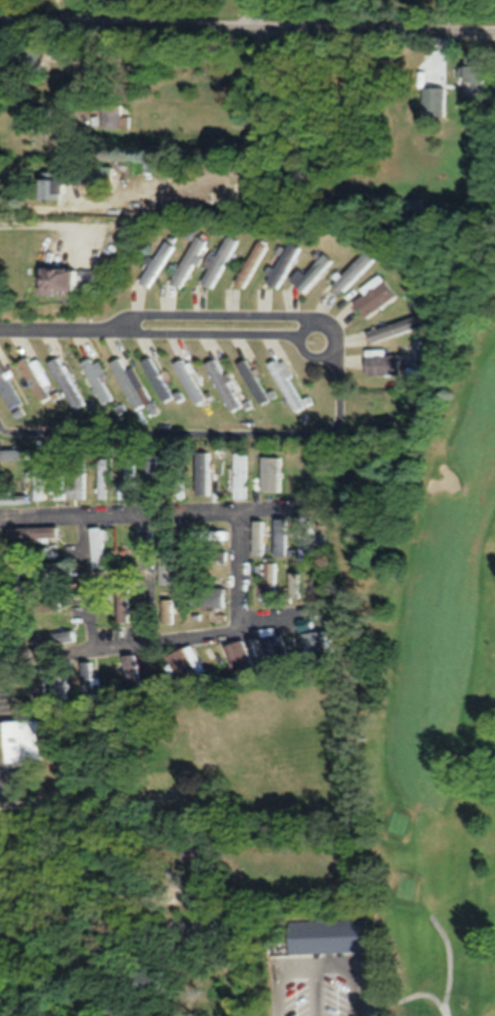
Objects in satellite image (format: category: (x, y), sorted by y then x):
road: (247, 12)
road: (247, 24)
building: (27, 57)
building: (473, 74)
building: (433, 99)
building: (28, 115)
building: (113, 116)
building: (71, 173)
building: (96, 174)
building: (47, 185)
building: (218, 260)
building: (186, 261)
building: (153, 263)
building: (249, 263)
building: (280, 263)
building: (353, 270)
building: (312, 272)
building: (62, 278)
building: (371, 299)
road: (63, 318)
building: (391, 328)
road: (338, 338)
building: (379, 363)
building: (35, 378)
building: (98, 379)
building: (253, 380)
building: (66, 381)
building: (160, 381)
building: (127, 382)
building: (192, 382)
building: (224, 384)
building: (288, 385)
building: (7, 390)
road: (208, 422)
building: (13, 455)
building: (261, 472)
building: (241, 474)
building: (287, 474)
building: (151, 475)
building: (200, 475)
building: (129, 476)
building: (219, 476)
building: (56, 477)
building: (78, 478)
building: (102, 478)
building: (177, 479)
building: (37, 480)
building: (12, 497)
road: (147, 509)
building: (31, 531)
building: (208, 534)
building: (306, 538)
building: (281, 539)
building: (96, 547)
building: (29, 552)
building: (207, 555)
building: (39, 567)
building: (269, 582)
building: (31, 585)
building: (207, 595)
building: (121, 604)
building: (46, 606)
building: (99, 609)
building: (167, 610)
road: (276, 614)
road: (157, 634)
building: (52, 638)
building: (318, 639)
building: (276, 651)
building: (238, 657)
building: (183, 663)
building: (132, 672)
park: (414, 721)
building: (23, 731)
building: (161, 758)
building: (292, 939)
road: (451, 958)
building: (340, 959)
road: (408, 995)
road: (342, 1002)
parking lot: (329, 1003)

